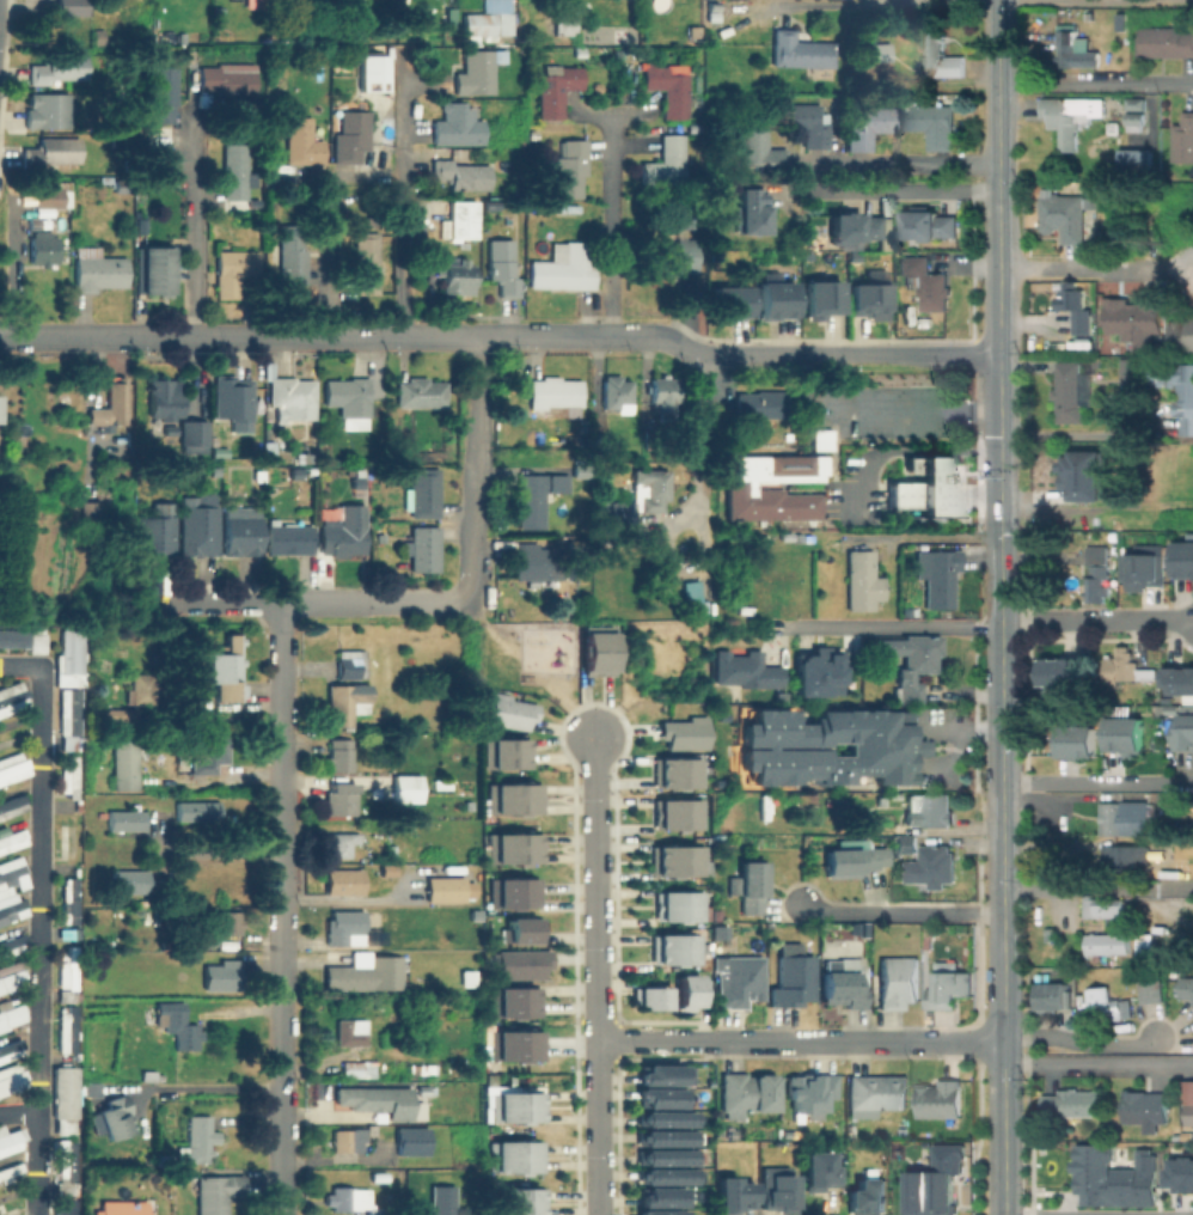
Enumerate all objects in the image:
road: (1071, 0)
building: (72, 7)
building: (712, 7)
building: (567, 19)
building: (506, 22)
building: (484, 26)
building: (537, 30)
building: (99, 36)
building: (1163, 41)
building: (1073, 48)
building: (799, 51)
building: (874, 53)
building: (941, 55)
building: (65, 72)
building: (369, 72)
building: (476, 73)
building: (227, 80)
road: (1095, 84)
building: (668, 87)
building: (556, 88)
building: (164, 94)
road: (998, 96)
building: (1136, 102)
building: (49, 111)
building: (1072, 116)
building: (804, 122)
building: (1137, 122)
building: (932, 123)
building: (868, 124)
building: (458, 126)
building: (351, 135)
building: (1183, 140)
building: (302, 141)
building: (761, 148)
building: (55, 152)
building: (666, 161)
road: (897, 161)
building: (1139, 163)
building: (570, 167)
building: (235, 172)
building: (463, 176)
road: (894, 190)
building: (54, 194)
road: (402, 202)
building: (754, 214)
building: (1070, 216)
building: (683, 219)
building: (461, 221)
road: (608, 224)
road: (190, 225)
building: (932, 226)
building: (857, 228)
building: (418, 231)
building: (43, 248)
road: (328, 249)
building: (293, 256)
building: (435, 256)
building: (674, 257)
building: (366, 263)
building: (565, 265)
road: (1096, 267)
building: (503, 268)
building: (98, 269)
building: (158, 270)
building: (235, 270)
building: (457, 276)
building: (926, 282)
building: (824, 298)
building: (777, 301)
building: (870, 301)
building: (733, 304)
building: (1075, 306)
building: (1136, 322)
road: (325, 332)
road: (562, 332)
road: (67, 334)
building: (1182, 337)
road: (801, 353)
road: (999, 361)
building: (1132, 371)
building: (1071, 390)
building: (422, 392)
building: (617, 392)
building: (553, 393)
building: (665, 397)
building: (166, 398)
building: (293, 399)
building: (349, 399)
building: (235, 403)
building: (764, 403)
road: (916, 405)
building: (111, 407)
building: (1183, 407)
building: (0, 409)
building: (171, 429)
road: (1070, 435)
building: (195, 438)
building: (599, 445)
road: (475, 462)
road: (704, 464)
building: (1083, 470)
building: (580, 471)
building: (357, 477)
building: (777, 482)
building: (557, 483)
building: (928, 486)
building: (426, 494)
building: (641, 496)
building: (530, 501)
building: (94, 511)
building: (198, 530)
building: (345, 531)
building: (157, 533)
building: (243, 535)
building: (288, 537)
road: (923, 537)
building: (426, 550)
building: (1186, 558)
building: (536, 562)
building: (1099, 570)
building: (1148, 573)
building: (937, 574)
road: (1001, 579)
building: (862, 580)
building: (691, 594)
road: (372, 600)
road: (210, 602)
road: (1096, 619)
road: (892, 628)
building: (13, 640)
building: (38, 642)
building: (595, 653)
building: (72, 660)
building: (912, 663)
building: (348, 665)
building: (1127, 668)
building: (227, 670)
building: (746, 671)
building: (818, 672)
building: (1063, 672)
building: (1180, 682)
building: (142, 689)
building: (13, 700)
building: (347, 702)
road: (1001, 704)
building: (71, 712)
building: (507, 712)
building: (117, 714)
building: (683, 733)
building: (1186, 734)
building: (1127, 737)
building: (69, 741)
building: (1077, 741)
building: (879, 745)
building: (503, 752)
building: (212, 755)
building: (341, 755)
building: (126, 761)
building: (14, 767)
building: (674, 773)
building: (71, 776)
road: (1095, 782)
building: (442, 784)
building: (406, 789)
building: (510, 798)
building: (341, 799)
building: (79, 804)
building: (13, 806)
building: (929, 808)
road: (1002, 810)
building: (198, 811)
building: (677, 813)
building: (1122, 817)
building: (128, 820)
building: (1191, 829)
building: (71, 839)
building: (512, 839)
building: (13, 842)
building: (341, 844)
road: (218, 854)
building: (512, 855)
building: (1124, 856)
building: (855, 859)
building: (925, 859)
building: (675, 860)
building: (12, 877)
building: (344, 881)
building: (130, 884)
building: (751, 887)
building: (452, 891)
building: (510, 892)
building: (418, 896)
building: (72, 902)
road: (1002, 902)
building: (678, 905)
building: (1103, 906)
road: (279, 908)
road: (900, 911)
building: (13, 914)
road: (41, 918)
building: (228, 922)
building: (856, 926)
building: (345, 928)
building: (519, 929)
building: (720, 929)
building: (77, 933)
building: (418, 934)
building: (1106, 944)
building: (1145, 944)
building: (12, 946)
building: (673, 948)
building: (519, 963)
building: (69, 971)
building: (224, 976)
building: (367, 976)
building: (467, 976)
road: (596, 976)
building: (12, 977)
building: (794, 977)
building: (739, 981)
building: (845, 983)
building: (899, 983)
building: (950, 988)
building: (1188, 989)
building: (686, 990)
building: (1151, 990)
building: (68, 996)
building: (649, 997)
building: (1057, 999)
building: (512, 1001)
building: (1106, 1003)
building: (12, 1014)
building: (179, 1026)
building: (68, 1030)
building: (351, 1033)
building: (513, 1036)
road: (800, 1040)
road: (1078, 1043)
building: (12, 1049)
building: (513, 1052)
road: (1097, 1063)
building: (427, 1067)
building: (351, 1069)
building: (148, 1074)
building: (661, 1074)
building: (11, 1077)
road: (198, 1087)
road: (1003, 1089)
building: (423, 1091)
building: (810, 1092)
building: (750, 1094)
building: (879, 1094)
building: (656, 1095)
building: (360, 1099)
building: (941, 1100)
building: (394, 1104)
building: (512, 1104)
building: (1073, 1104)
building: (1148, 1109)
road: (19, 1112)
building: (1191, 1115)
building: (663, 1117)
building: (114, 1119)
building: (65, 1121)
building: (732, 1134)
building: (12, 1135)
building: (662, 1137)
building: (201, 1138)
building: (412, 1141)
building: (348, 1144)
building: (663, 1155)
building: (513, 1156)
building: (819, 1166)
building: (11, 1173)
building: (662, 1174)
building: (1183, 1174)
building: (1133, 1176)
building: (383, 1177)
building: (62, 1187)
building: (779, 1187)
building: (736, 1190)
building: (934, 1190)
building: (215, 1193)
building: (868, 1193)
building: (659, 1196)
building: (347, 1198)
building: (442, 1201)
building: (520, 1201)
building: (10, 1202)
building: (68, 1205)
building: (124, 1208)
building: (379, 1211)
building: (657, 1211)

